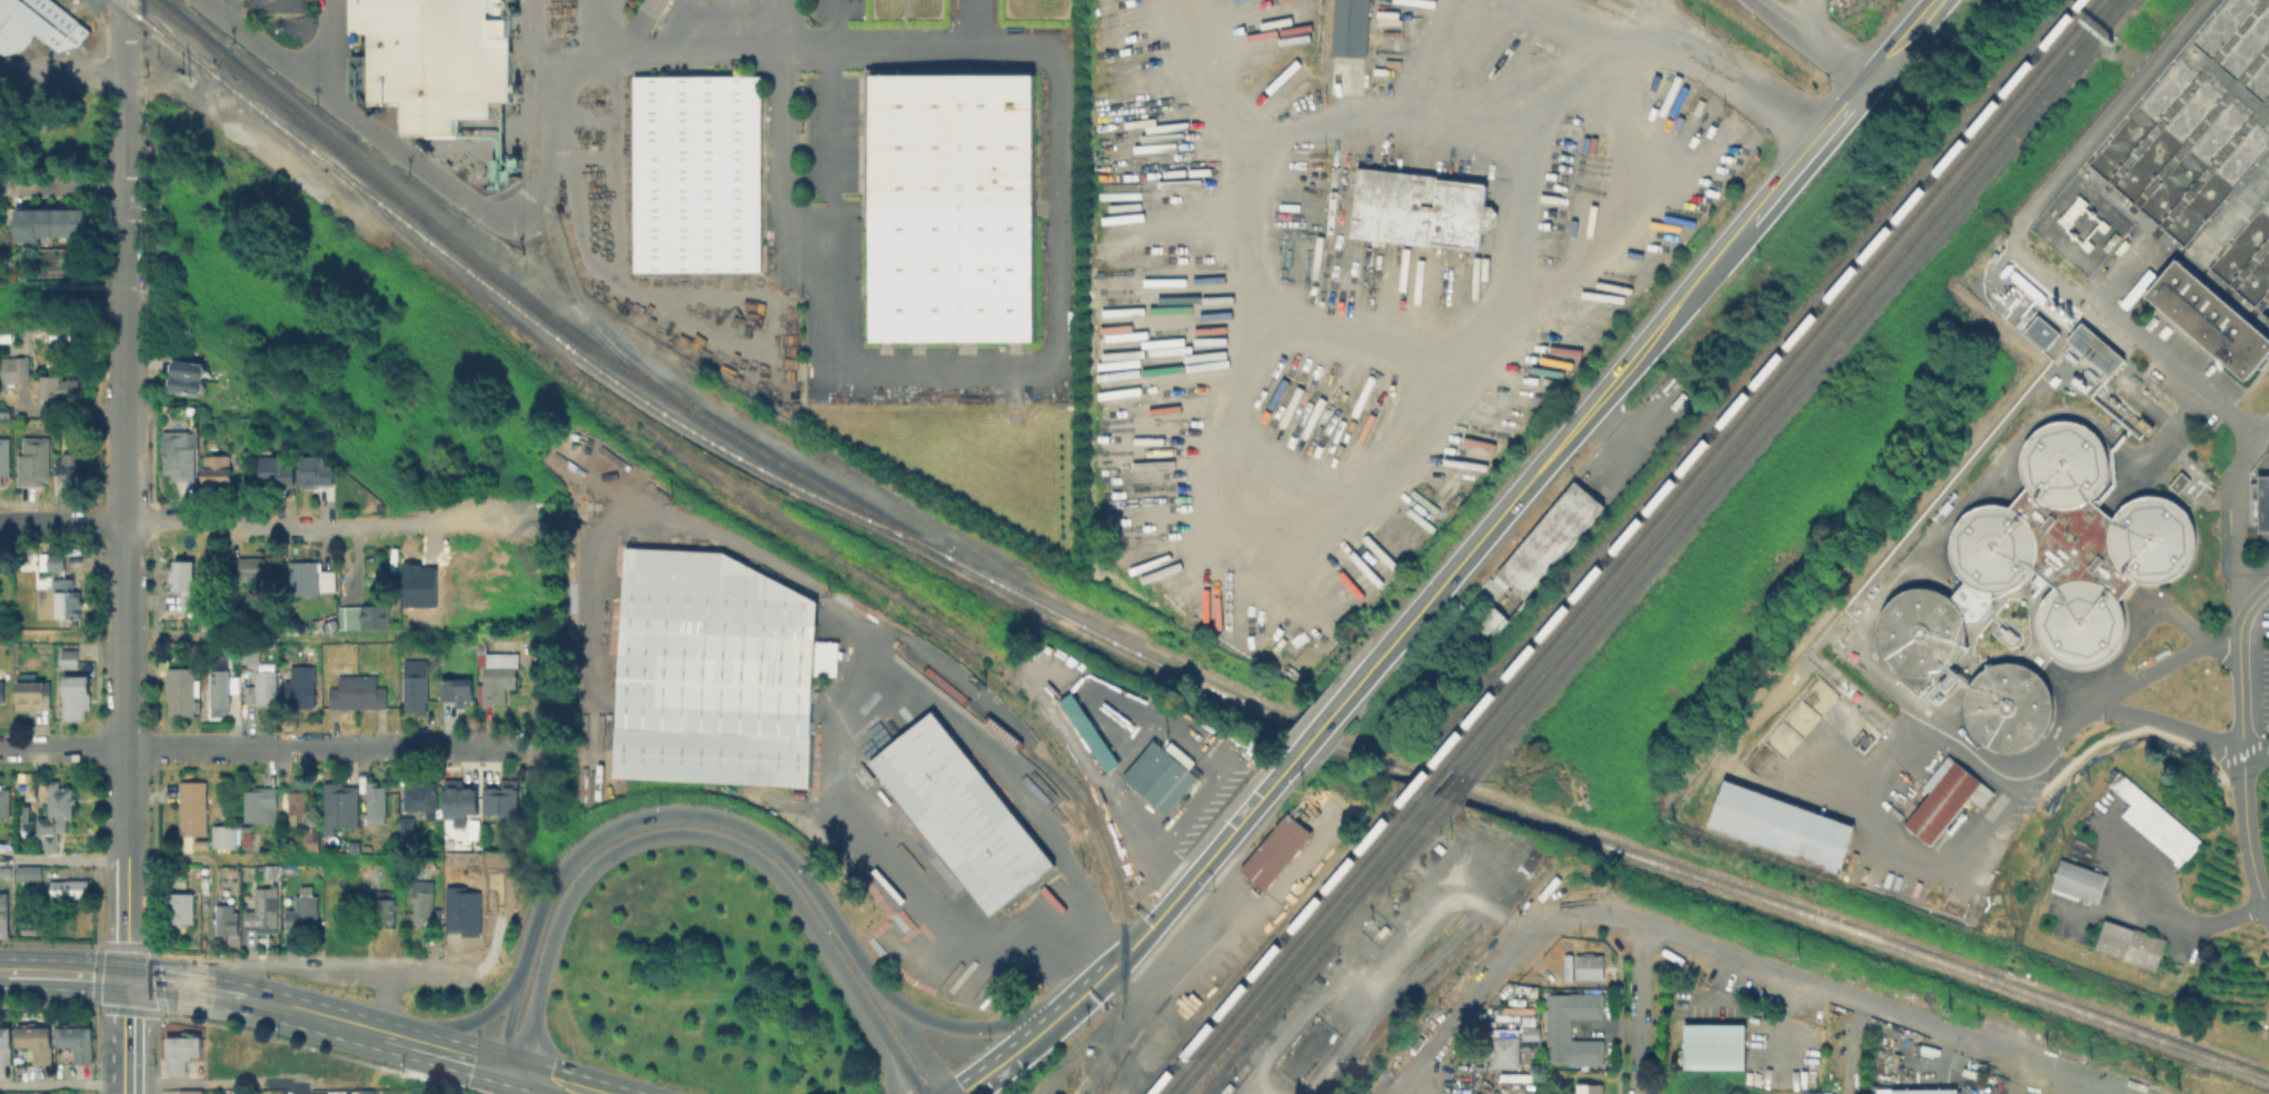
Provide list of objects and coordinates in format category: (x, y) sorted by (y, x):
building: (275, 6)
road: (1575, 18)
road: (1805, 18)
building: (1347, 27)
building: (40, 28)
railway: (160, 32)
railway: (167, 33)
road: (326, 42)
road: (1811, 42)
road: (1902, 42)
road: (590, 49)
road: (705, 56)
building: (435, 57)
road: (1723, 74)
road: (60, 76)
road: (352, 115)
railway: (268, 116)
road: (1384, 119)
road: (550, 149)
road: (1810, 151)
building: (694, 171)
road: (122, 173)
road: (61, 186)
building: (951, 205)
building: (1416, 207)
building: (56, 223)
railway: (541, 230)
road: (2019, 243)
road: (1497, 299)
building: (2051, 305)
building: (2213, 316)
building: (2039, 329)
building: (4, 334)
building: (58, 334)
road: (1046, 341)
building: (2093, 347)
building: (13, 368)
building: (189, 375)
railway: (1755, 378)
railway: (1768, 380)
railway: (1785, 384)
railway: (621, 385)
building: (60, 386)
railway: (1799, 388)
road: (2098, 428)
road: (1570, 435)
building: (182, 456)
building: (6, 461)
building: (72, 463)
building: (37, 464)
building: (218, 468)
building: (279, 471)
building: (319, 471)
building: (2182, 483)
road: (1353, 499)
building: (2265, 501)
road: (626, 513)
railway: (766, 515)
road: (281, 519)
road: (61, 521)
building: (1548, 537)
building: (2076, 543)
building: (53, 560)
building: (256, 567)
building: (310, 577)
wastewater plant: (2066, 577)
building: (188, 584)
road: (2261, 587)
building: (66, 597)
road: (2250, 599)
building: (375, 616)
building: (1485, 616)
building: (1919, 629)
road: (255, 633)
building: (714, 645)
building: (250, 652)
building: (310, 652)
building: (70, 657)
railway: (1148, 657)
road: (123, 663)
building: (501, 674)
building: (418, 683)
building: (219, 685)
building: (301, 686)
building: (266, 687)
road: (533, 687)
building: (2, 689)
building: (181, 689)
building: (359, 692)
building: (464, 692)
building: (36, 697)
road: (867, 700)
building: (74, 705)
building: (2006, 706)
road: (2163, 717)
road: (1328, 718)
road: (1161, 725)
building: (1086, 730)
road: (478, 745)
road: (148, 746)
road: (327, 746)
road: (396, 746)
building: (710, 756)
railway: (1037, 758)
building: (1160, 773)
railway: (1421, 773)
railway: (1432, 776)
railway: (1450, 783)
road: (2019, 787)
railway: (1461, 788)
building: (422, 798)
building: (1948, 799)
building: (4, 802)
building: (378, 802)
building: (261, 803)
building: (466, 803)
building: (506, 803)
building: (299, 806)
building: (193, 808)
building: (344, 808)
building: (959, 812)
building: (58, 813)
road: (698, 813)
building: (2159, 824)
building: (1783, 826)
building: (408, 827)
road: (2246, 835)
building: (227, 837)
building: (248, 838)
building: (309, 838)
building: (452, 844)
building: (357, 848)
building: (1273, 849)
road: (97, 854)
road: (608, 858)
road: (61, 859)
road: (1175, 863)
building: (6, 871)
building: (29, 871)
road: (1197, 871)
building: (266, 873)
building: (179, 881)
building: (2080, 881)
building: (71, 887)
building: (422, 901)
building: (387, 905)
building: (181, 906)
road: (1583, 911)
building: (303, 912)
building: (262, 913)
building: (3, 914)
road: (2189, 921)
building: (227, 923)
road: (1519, 927)
road: (6, 941)
railway: (1277, 941)
building: (2116, 941)
road: (50, 942)
railway: (1290, 942)
road: (96, 943)
railway: (1311, 944)
road: (1190, 945)
railway: (1325, 946)
road: (248, 949)
building: (2147, 952)
road: (344, 955)
road: (1086, 955)
road: (153, 956)
road: (288, 966)
building: (1566, 966)
building: (1591, 967)
road: (429, 972)
road: (7, 973)
road: (70, 974)
traffic signals: (127, 978)
road: (158, 983)
road: (1091, 985)
railway: (1165, 994)
road: (1855, 995)
road: (385, 1003)
railway: (1119, 1005)
road: (1640, 1007)
road: (859, 1010)
road: (302, 1012)
road: (1462, 1013)
road: (160, 1016)
building: (1530, 1021)
road: (470, 1024)
road: (507, 1026)
road: (971, 1027)
building: (1565, 1033)
road: (129, 1035)
road: (290, 1042)
building: (1711, 1044)
building: (81, 1045)
road: (1850, 1045)
building: (42, 1046)
road: (915, 1046)
building: (1511, 1046)
building: (8, 1048)
building: (180, 1054)
road: (1011, 1056)
road: (460, 1057)
road: (805, 1060)
traffic signals: (508, 1071)
road: (1427, 1075)
road: (550, 1082)
road: (186, 1083)
road: (2069, 1083)
road: (2100, 1083)
building: (1590, 1088)
building: (369, 1090)
building: (1922, 1090)
building: (44, 1093)
building: (191, 1093)

